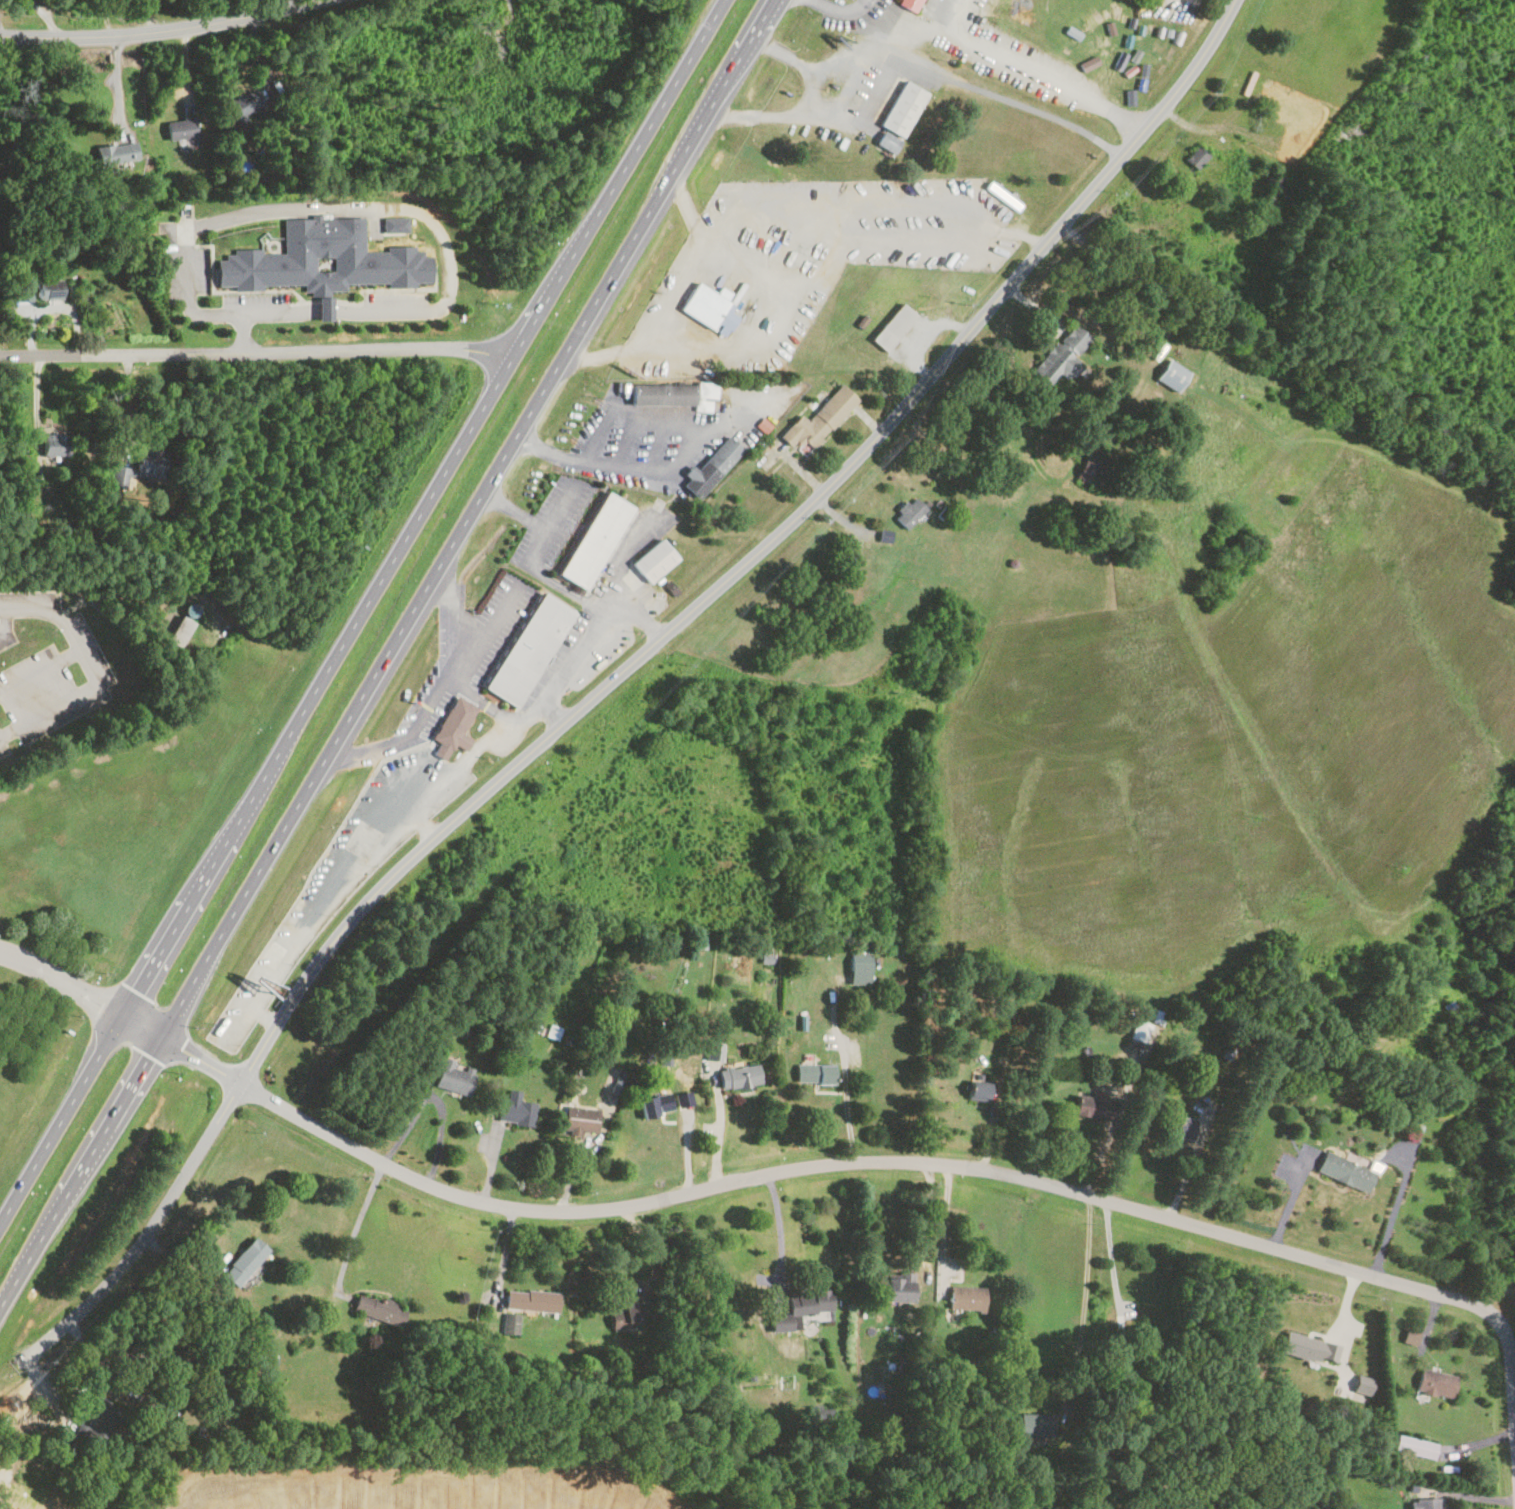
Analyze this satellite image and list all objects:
building: (909, 4)
road: (254, 7)
building: (981, 7)
road: (843, 8)
road: (158, 30)
road: (786, 53)
road: (906, 61)
road: (1035, 69)
building: (245, 104)
building: (897, 116)
building: (180, 128)
building: (116, 153)
building: (1195, 157)
building: (1271, 196)
road: (328, 206)
building: (939, 227)
building: (869, 246)
building: (48, 290)
road: (673, 299)
building: (704, 303)
road: (326, 309)
road: (279, 313)
building: (892, 327)
road: (255, 352)
building: (1062, 356)
building: (1171, 376)
building: (672, 394)
road: (128, 406)
building: (817, 421)
building: (52, 445)
road: (618, 462)
building: (150, 463)
building: (709, 467)
building: (1090, 470)
building: (117, 477)
building: (909, 513)
building: (599, 539)
road: (537, 553)
building: (653, 561)
road: (361, 610)
road: (4, 617)
building: (183, 625)
road: (487, 632)
road: (588, 639)
road: (78, 641)
building: (532, 649)
road: (386, 654)
road: (614, 675)
road: (444, 689)
road: (66, 700)
road: (499, 710)
building: (452, 728)
road: (422, 823)
road: (364, 857)
building: (294, 919)
building: (282, 939)
building: (859, 962)
traffic signals: (138, 991)
traffic signals: (101, 1004)
building: (1450, 1009)
building: (249, 1013)
building: (1140, 1031)
traffic signals: (180, 1048)
building: (713, 1050)
traffic signals: (151, 1056)
building: (816, 1072)
building: (453, 1075)
building: (738, 1075)
building: (977, 1089)
road: (436, 1097)
road: (847, 1101)
building: (655, 1103)
building: (1093, 1107)
building: (514, 1108)
building: (577, 1118)
building: (1179, 1126)
road: (717, 1127)
road: (684, 1140)
road: (775, 1168)
building: (1344, 1170)
road: (930, 1210)
road: (776, 1218)
road: (357, 1224)
building: (244, 1261)
road: (1114, 1271)
building: (898, 1287)
building: (965, 1297)
building: (530, 1300)
road: (1084, 1301)
building: (801, 1306)
building: (378, 1308)
building: (623, 1315)
building: (509, 1324)
building: (171, 1344)
building: (1310, 1347)
building: (1435, 1382)
road: (1514, 1382)
building: (95, 1420)
building: (1035, 1424)
building: (1414, 1445)
road: (1469, 1489)
building: (1426, 1503)

